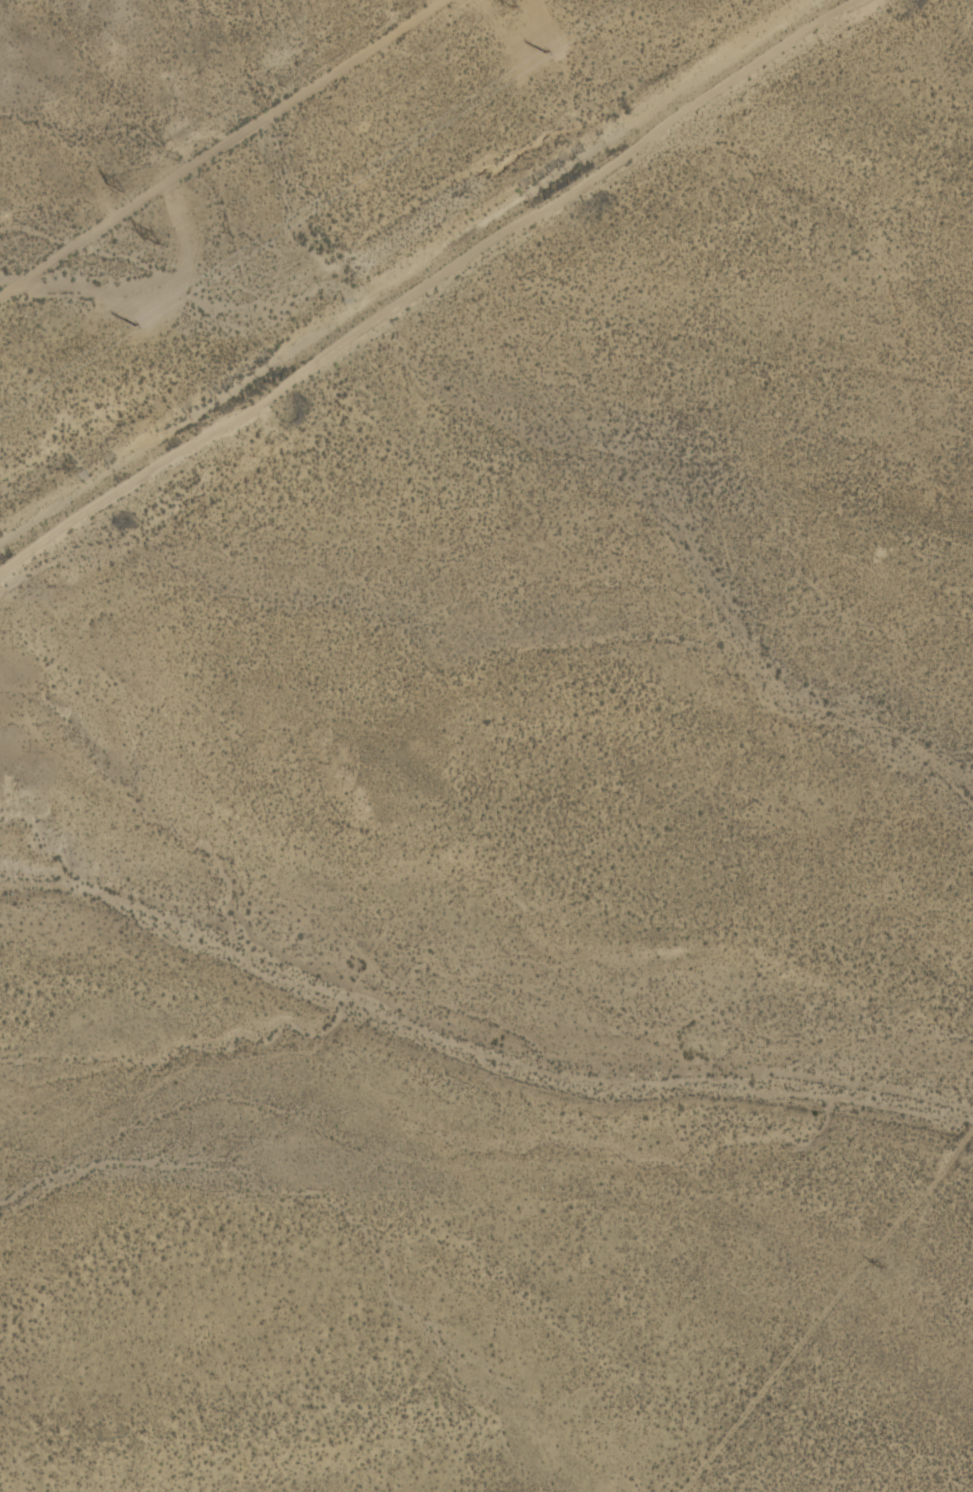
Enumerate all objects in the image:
power tower: (427, 53)
power tower: (546, 53)
road: (219, 147)
power tower: (121, 185)
road: (424, 281)
power tower: (135, 329)
power tower: (873, 1263)

